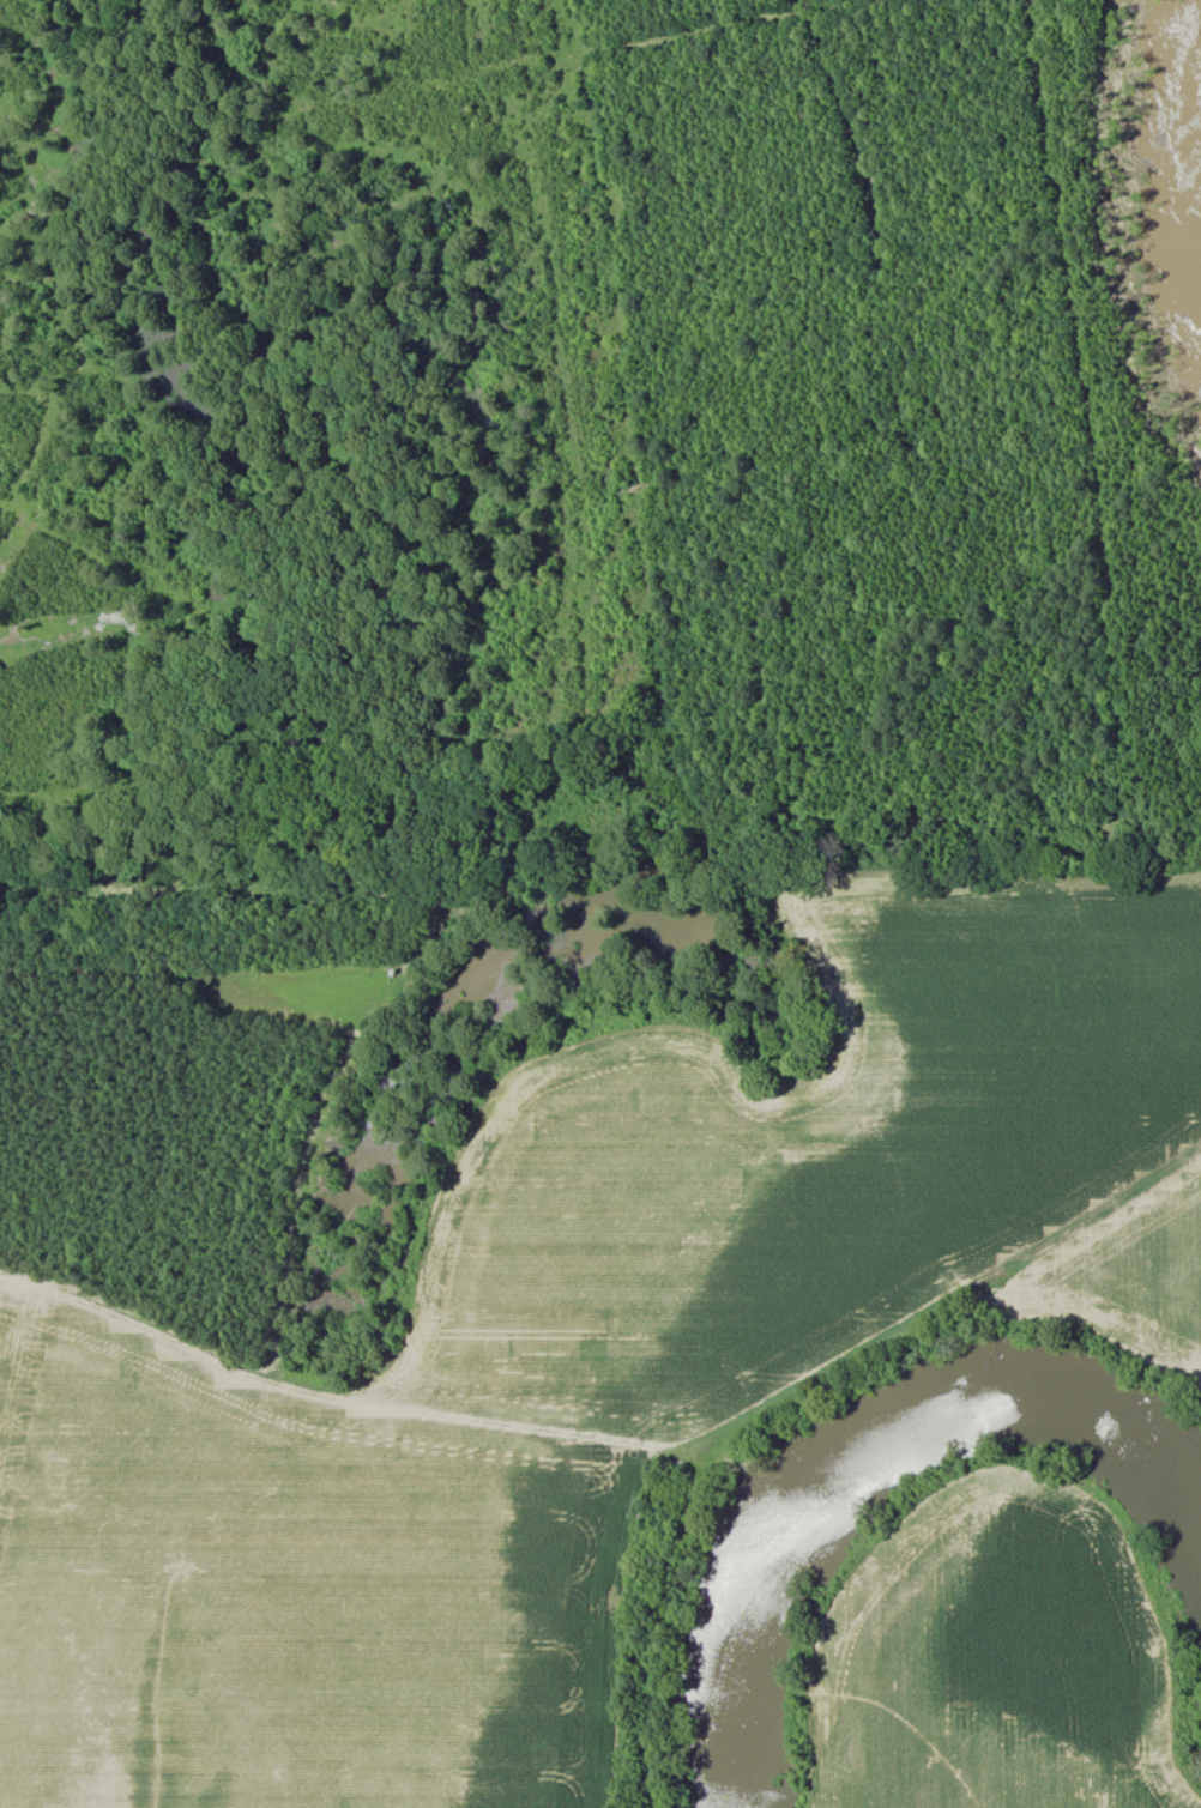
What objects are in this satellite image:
river: (1199, 144)
road: (314, 1361)

